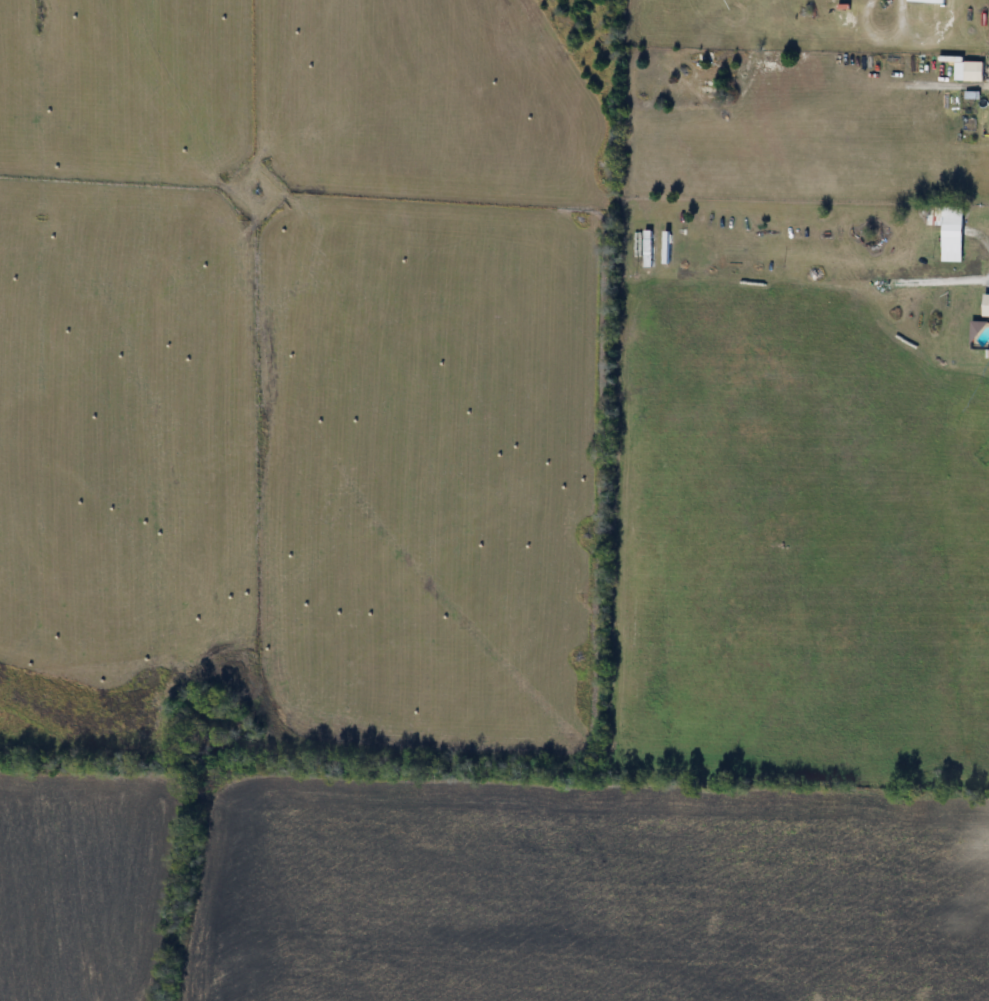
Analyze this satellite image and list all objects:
building: (928, 2)
building: (970, 73)
building: (950, 231)
building: (648, 249)
road: (941, 280)
building: (987, 305)

